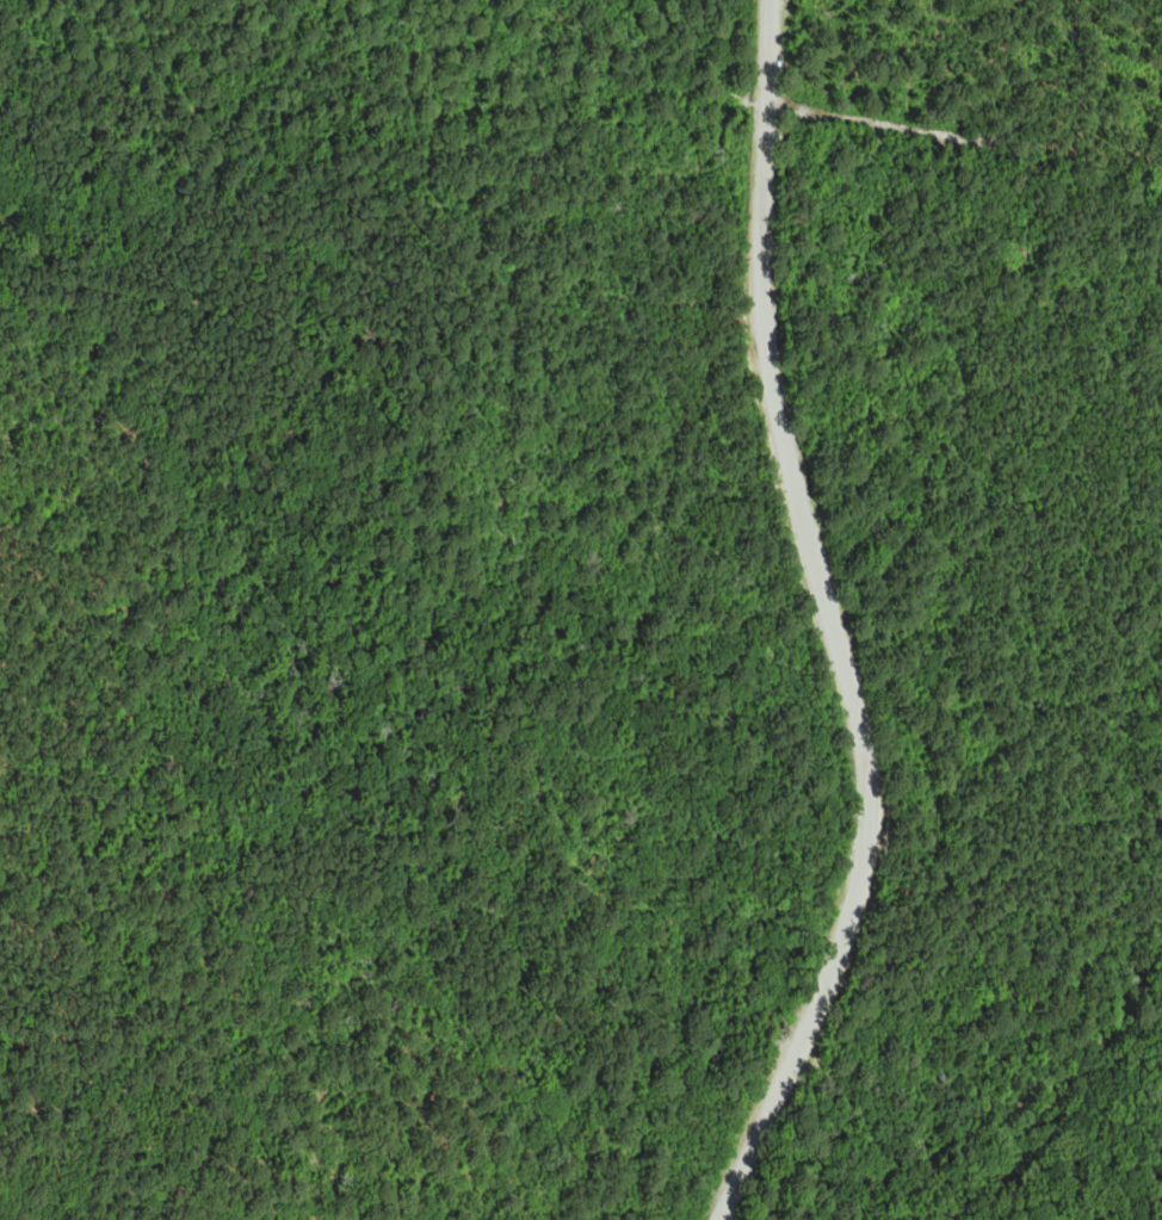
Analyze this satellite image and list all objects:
road: (768, 52)
road: (509, 83)
road: (752, 103)
road: (760, 105)
road: (775, 109)
road: (793, 111)
road: (981, 140)
park: (486, 617)
road: (846, 674)

